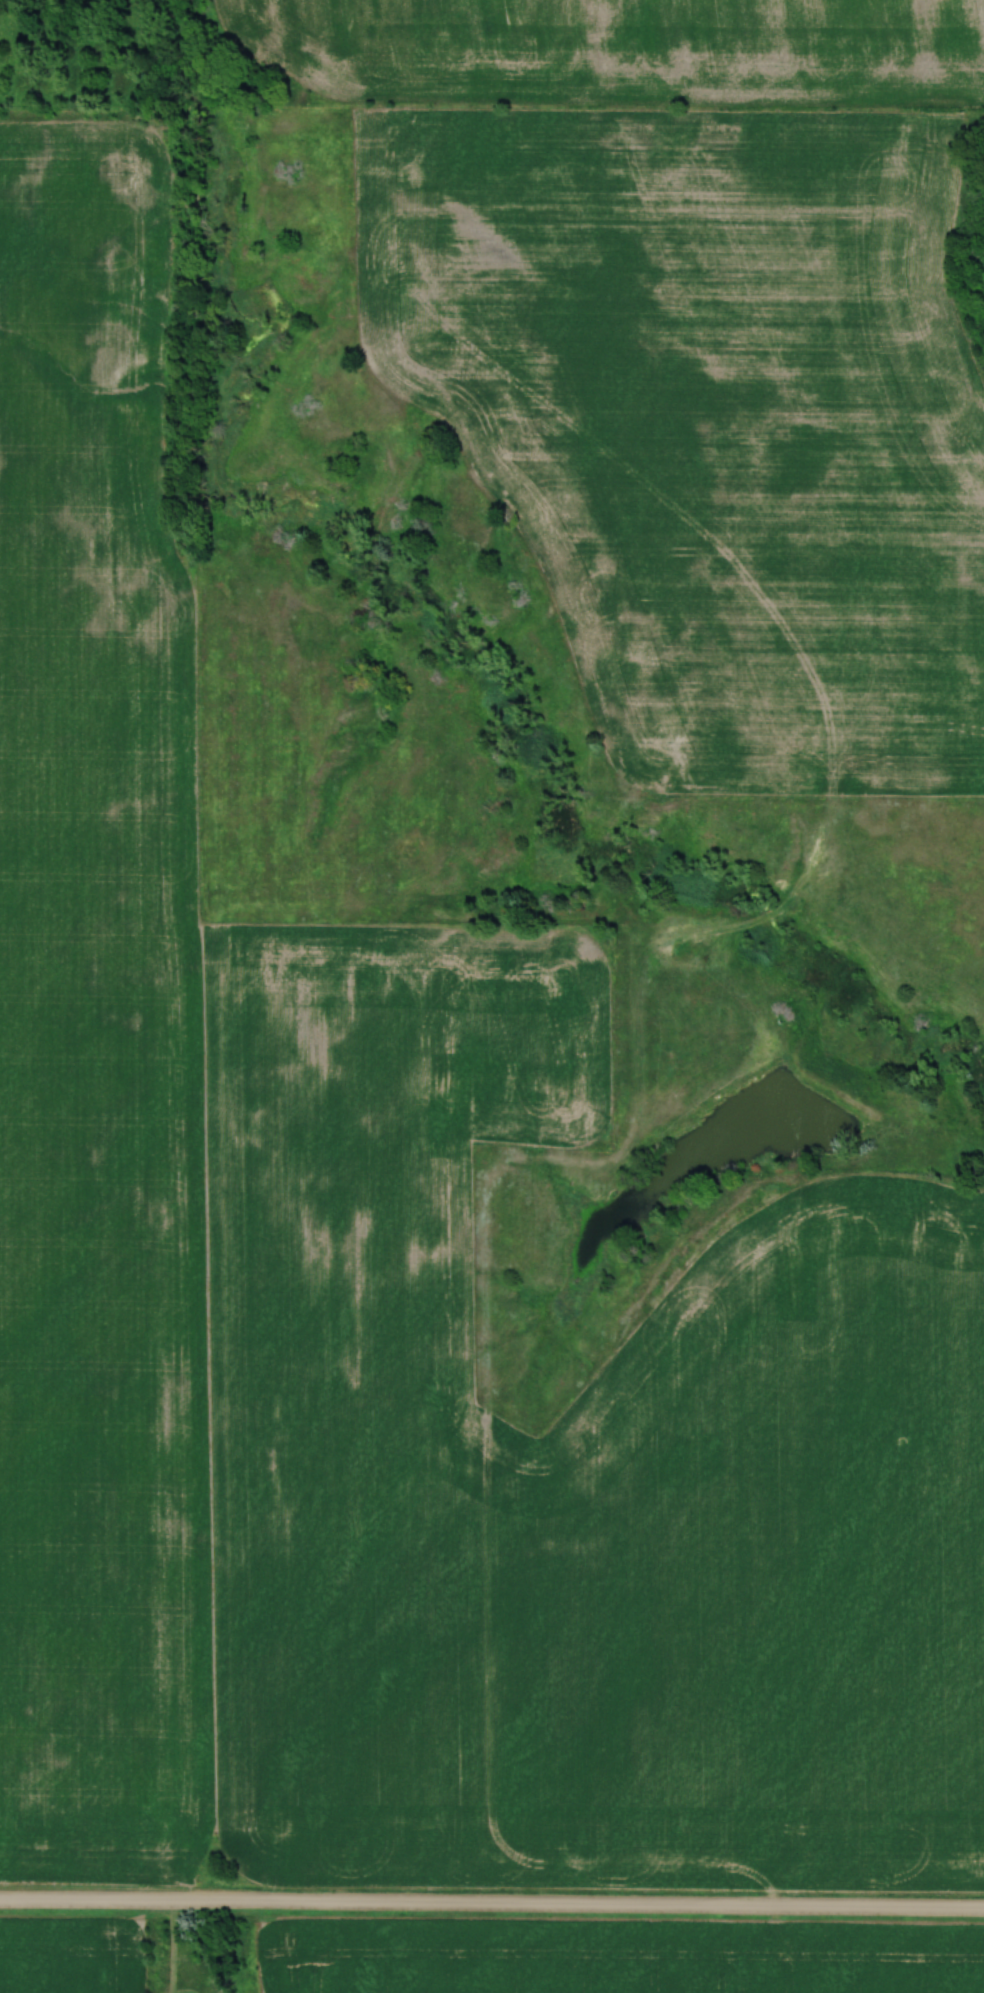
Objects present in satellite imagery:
road: (492, 1905)
crop: (68, 1956)
crop: (620, 1957)

